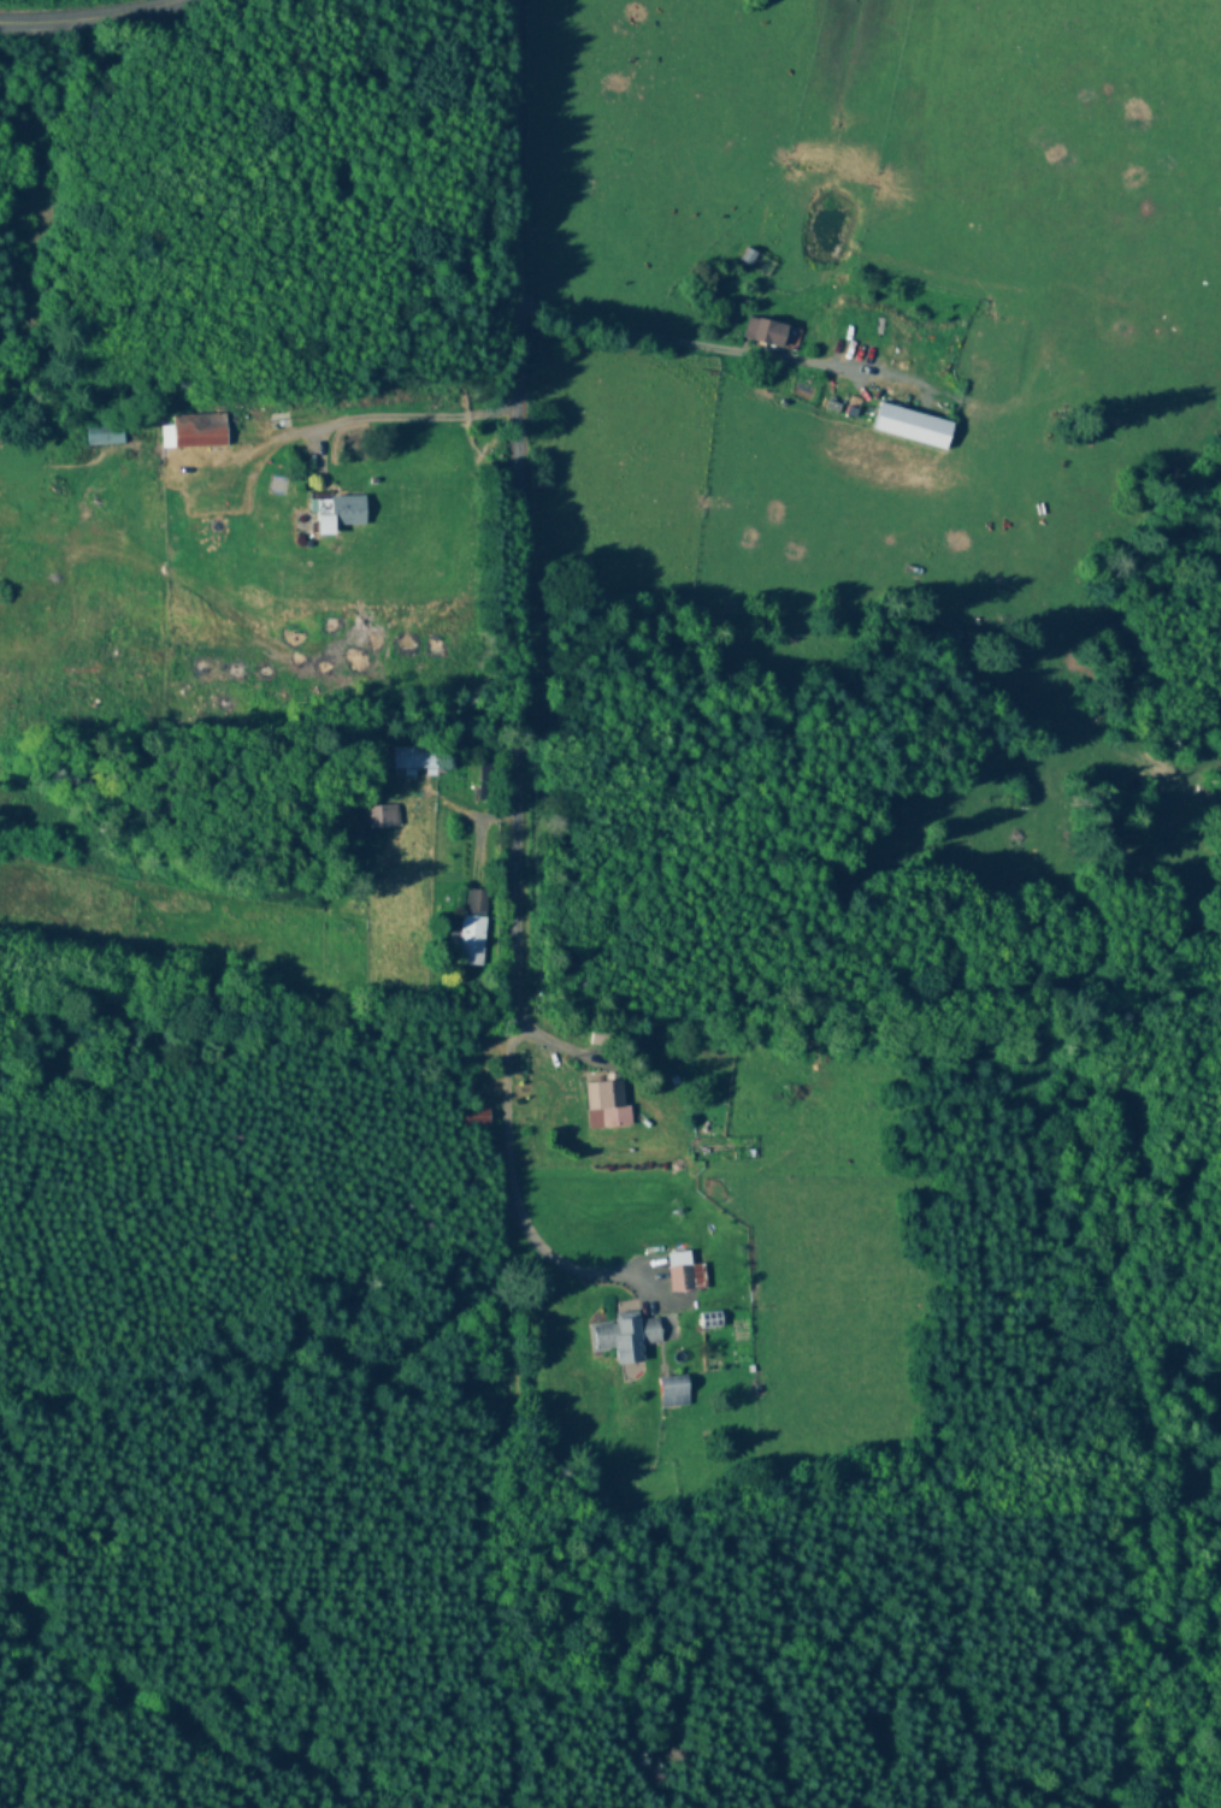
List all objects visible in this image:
road: (85, 10)
building: (769, 226)
building: (766, 332)
building: (910, 427)
building: (104, 435)
building: (191, 436)
building: (337, 513)
road: (501, 545)
building: (415, 760)
building: (485, 782)
building: (377, 816)
building: (476, 900)
building: (470, 940)
building: (606, 1104)
building: (471, 1118)
road: (511, 1218)
building: (679, 1272)
building: (625, 1337)
building: (672, 1392)

